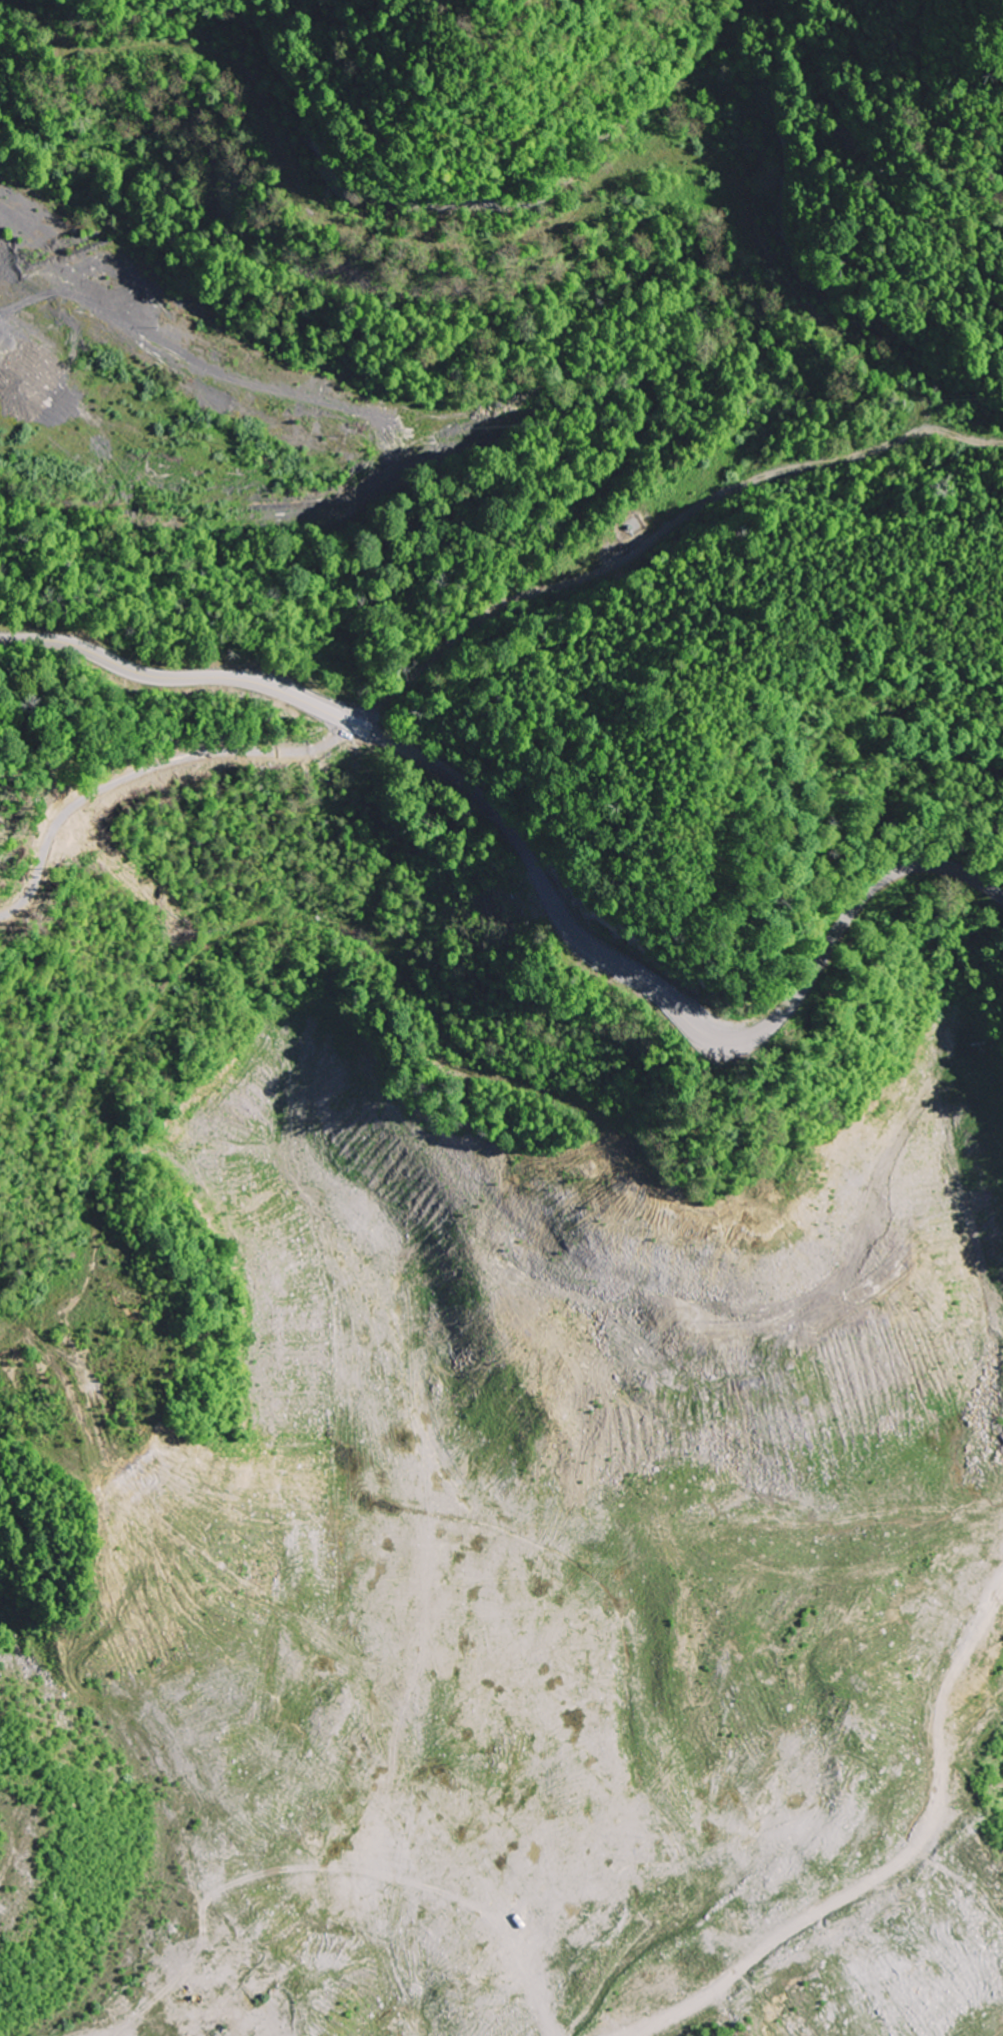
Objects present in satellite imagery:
road: (164, 673)
road: (666, 1004)
road: (430, 1036)
road: (868, 1863)

